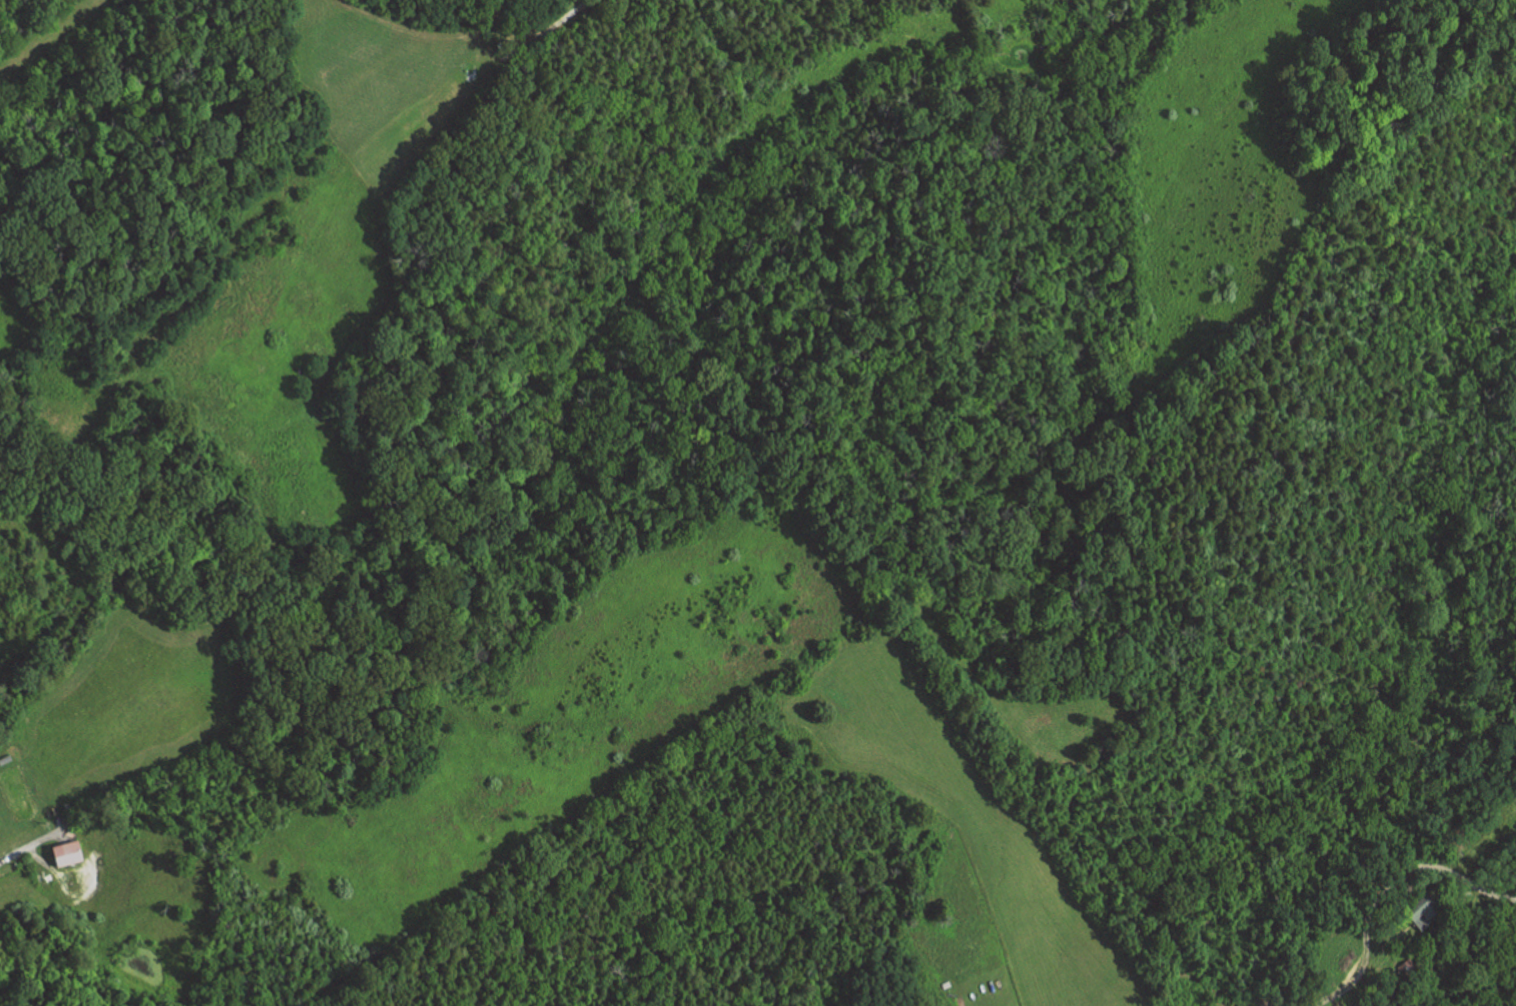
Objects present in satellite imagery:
road: (531, 33)
road: (22, 848)
building: (70, 854)
road: (37, 855)
road: (1477, 886)
building: (1417, 908)
building: (1387, 995)

